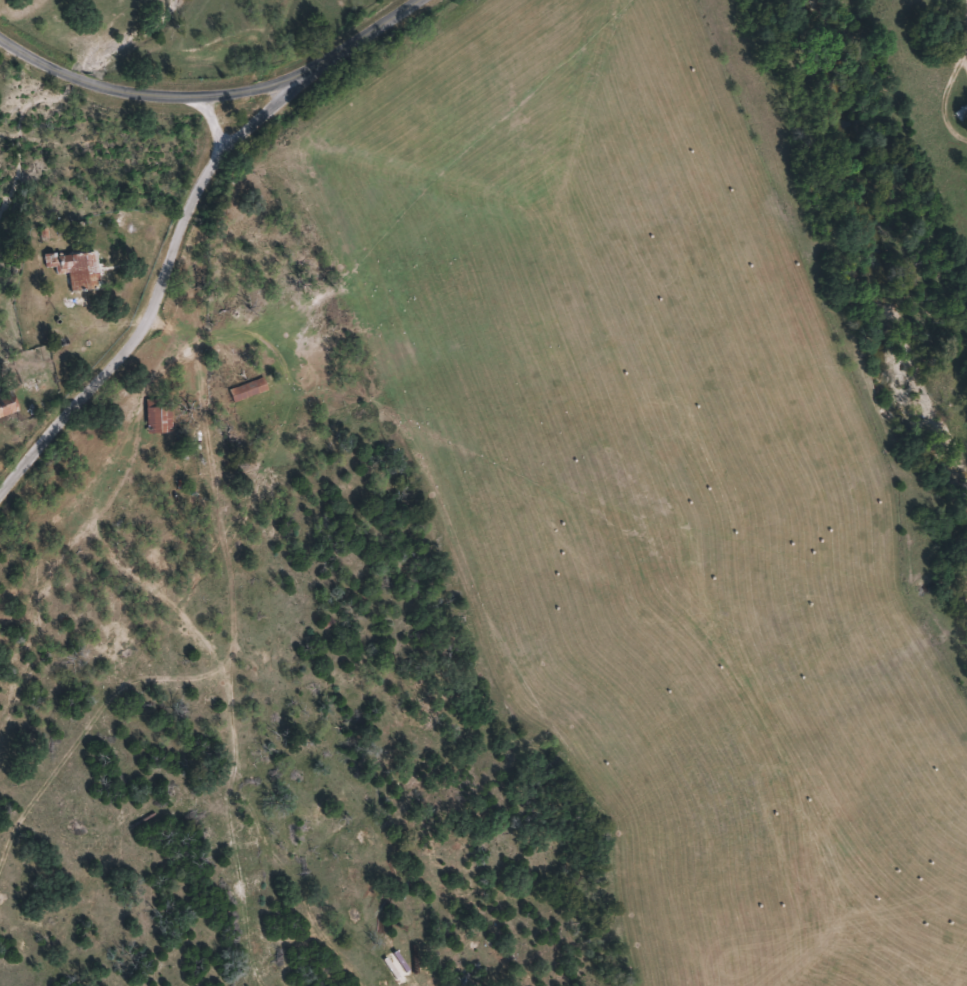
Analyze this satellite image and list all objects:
road: (362, 38)
road: (147, 95)
building: (82, 271)
road: (160, 286)
building: (9, 404)

